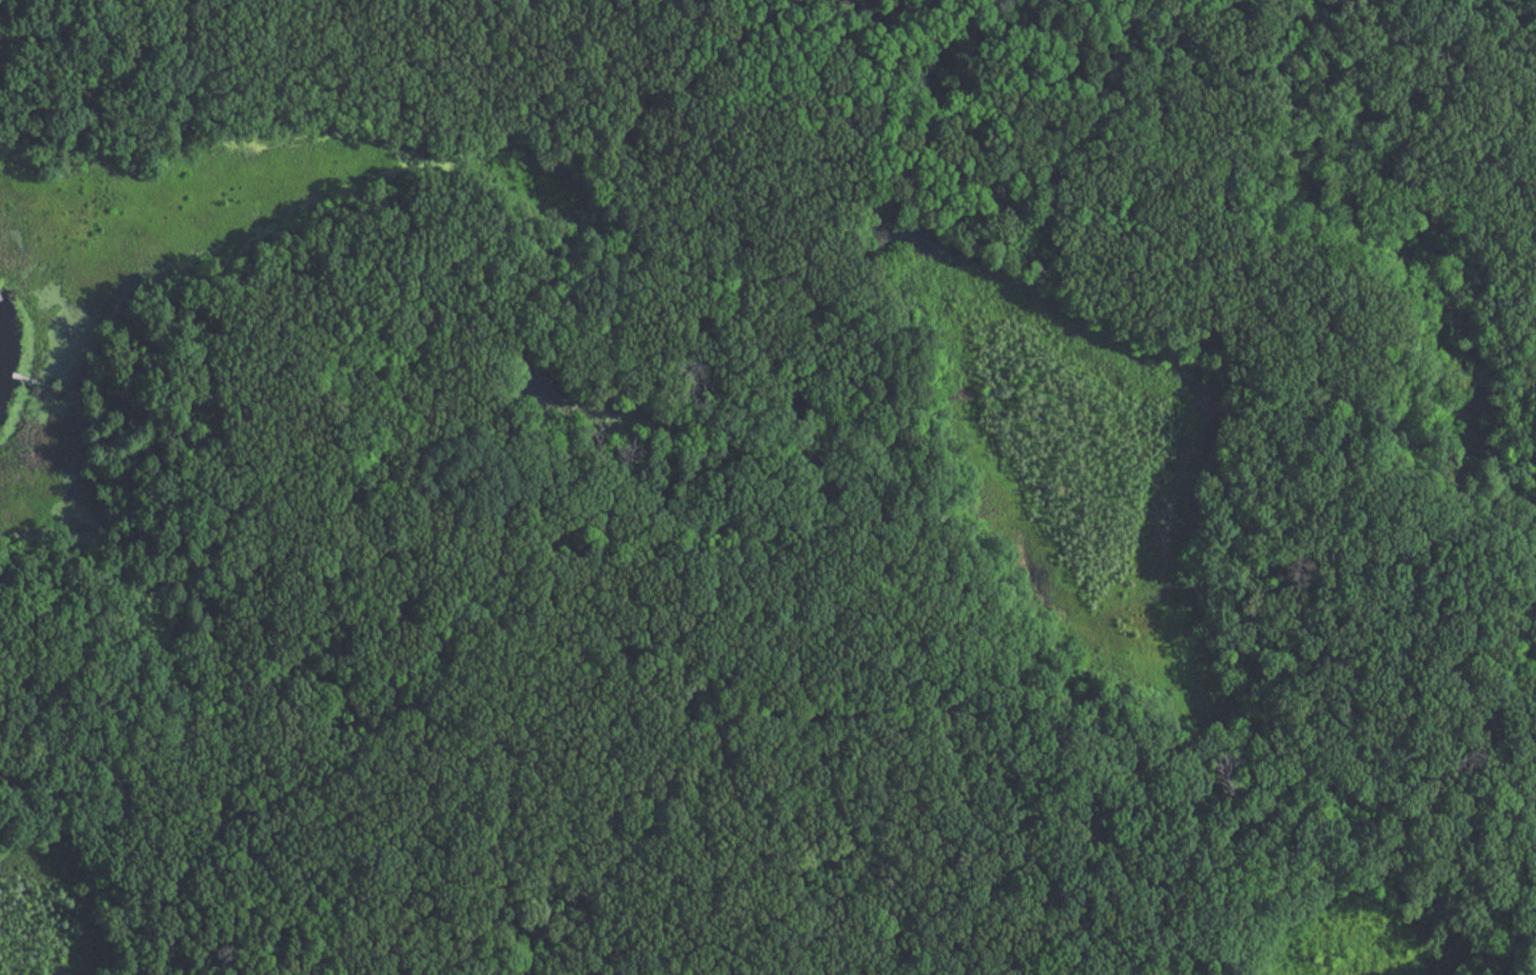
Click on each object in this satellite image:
road: (958, 3)
road: (151, 26)
road: (488, 40)
road: (93, 58)
road: (1476, 143)
road: (591, 264)
pier: (45, 385)
park: (785, 493)
road: (687, 654)
road: (447, 822)
road: (365, 936)

